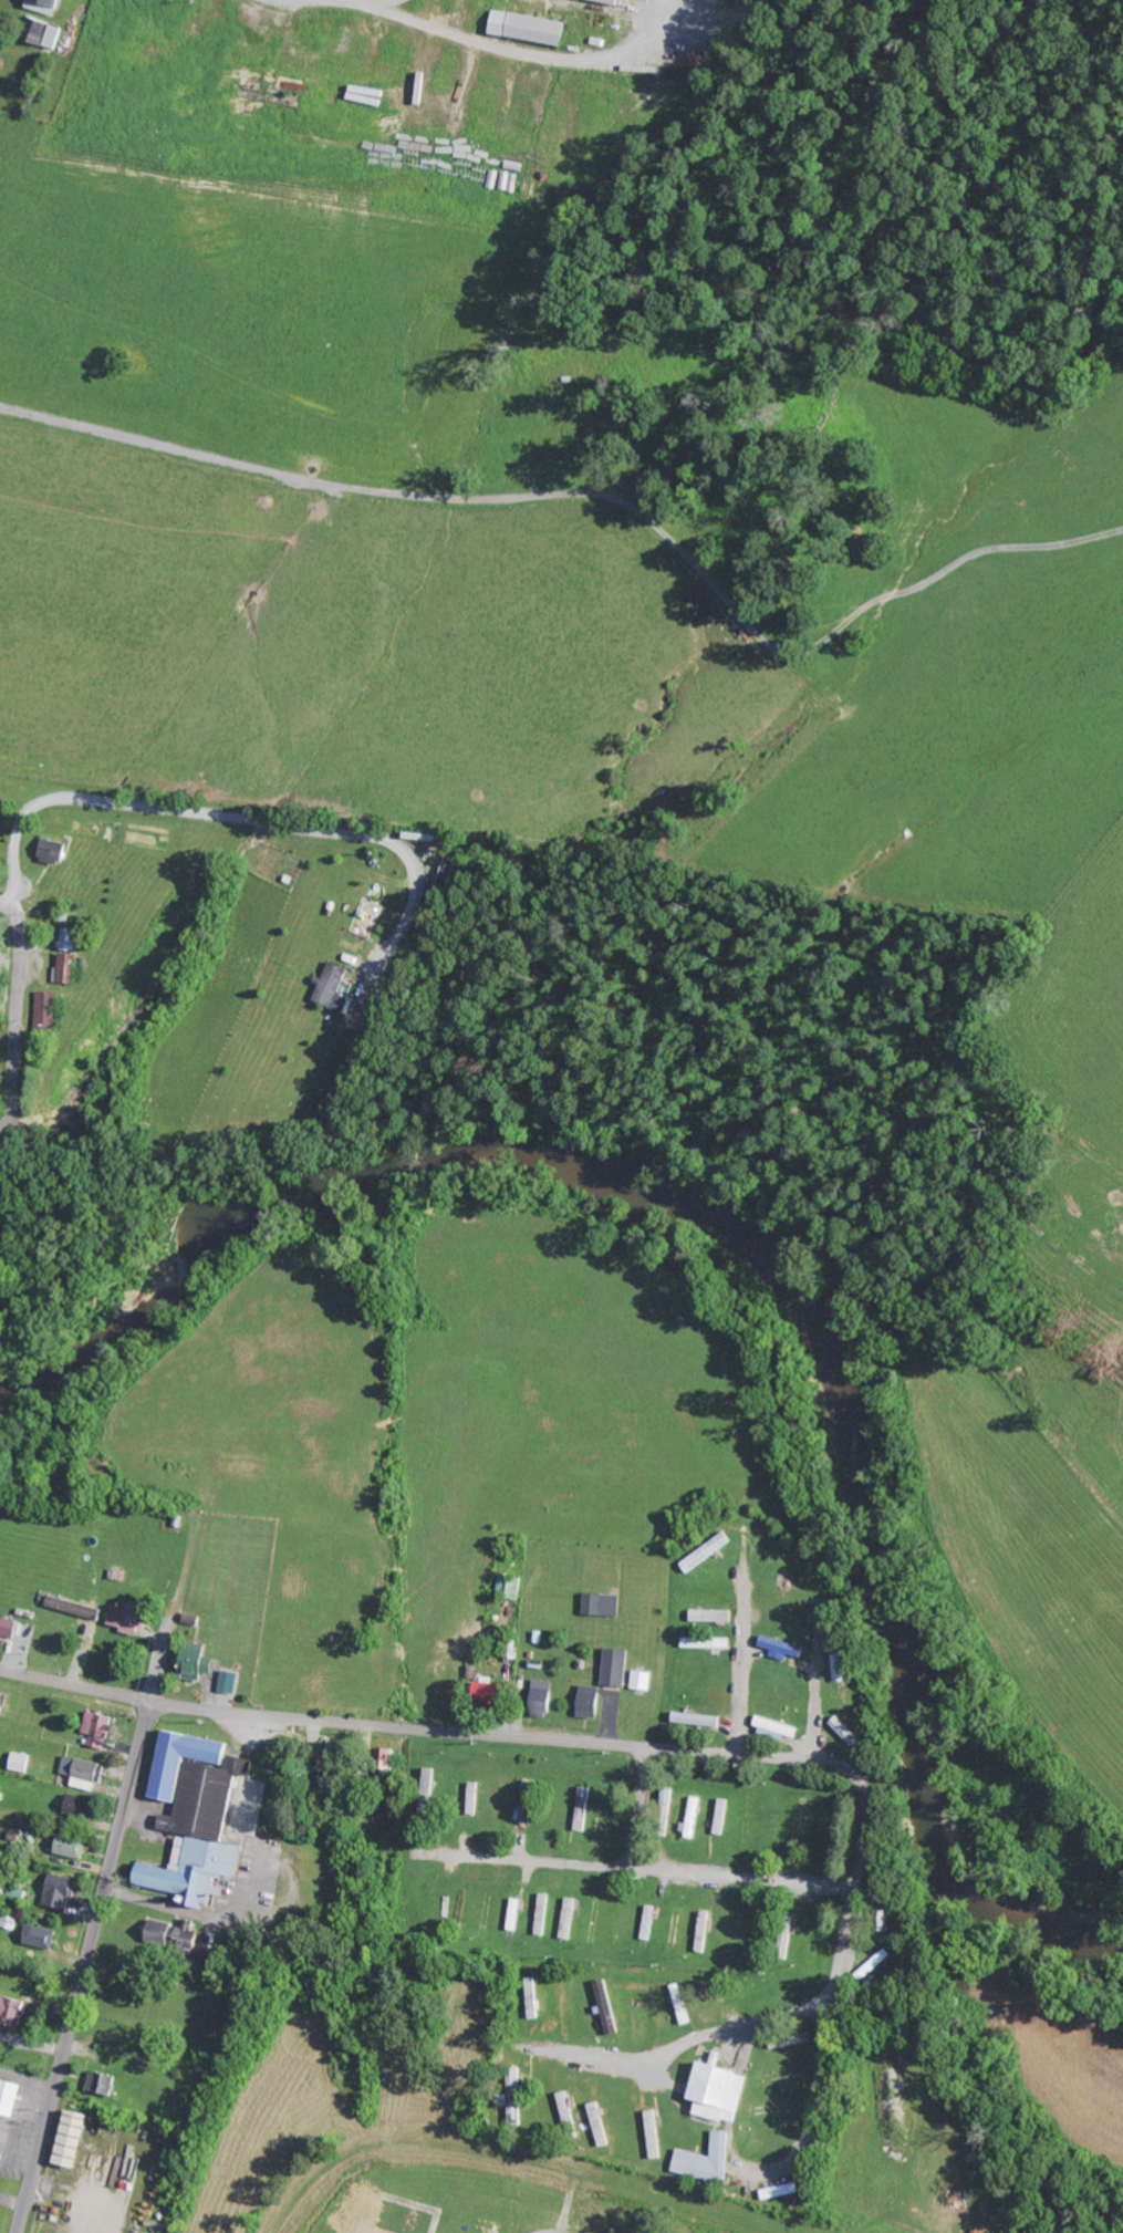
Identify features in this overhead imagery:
building: (614, 1)
building: (45, 6)
road: (383, 11)
building: (531, 27)
building: (50, 34)
road: (453, 456)
building: (55, 851)
building: (71, 939)
building: (70, 969)
building: (333, 987)
building: (49, 1004)
road: (17, 1017)
road: (759, 1547)
road: (83, 1556)
building: (596, 1604)
building: (706, 1616)
building: (133, 1617)
building: (9, 1626)
building: (777, 1648)
building: (611, 1666)
building: (197, 1668)
road: (742, 1670)
building: (636, 1680)
building: (230, 1681)
building: (483, 1690)
building: (582, 1702)
road: (814, 1710)
building: (693, 1720)
building: (770, 1725)
building: (100, 1728)
road: (405, 1730)
building: (840, 1730)
building: (22, 1762)
building: (83, 1773)
building: (425, 1785)
building: (469, 1798)
building: (80, 1806)
building: (579, 1808)
road: (638, 1809)
building: (662, 1811)
building: (198, 1814)
building: (717, 1817)
building: (797, 1822)
building: (73, 1847)
road: (641, 1870)
building: (61, 1891)
building: (539, 1913)
building: (510, 1914)
building: (564, 1918)
building: (160, 1931)
building: (40, 1936)
building: (781, 1938)
road: (84, 1969)
building: (865, 1969)
road: (838, 1970)
building: (529, 1997)
building: (676, 2004)
building: (603, 2006)
building: (13, 2009)
road: (687, 2044)
building: (102, 2083)
building: (710, 2091)
building: (9, 2099)
building: (594, 2123)
building: (649, 2135)
building: (77, 2139)
road: (505, 2158)
building: (701, 2160)
building: (776, 2191)

